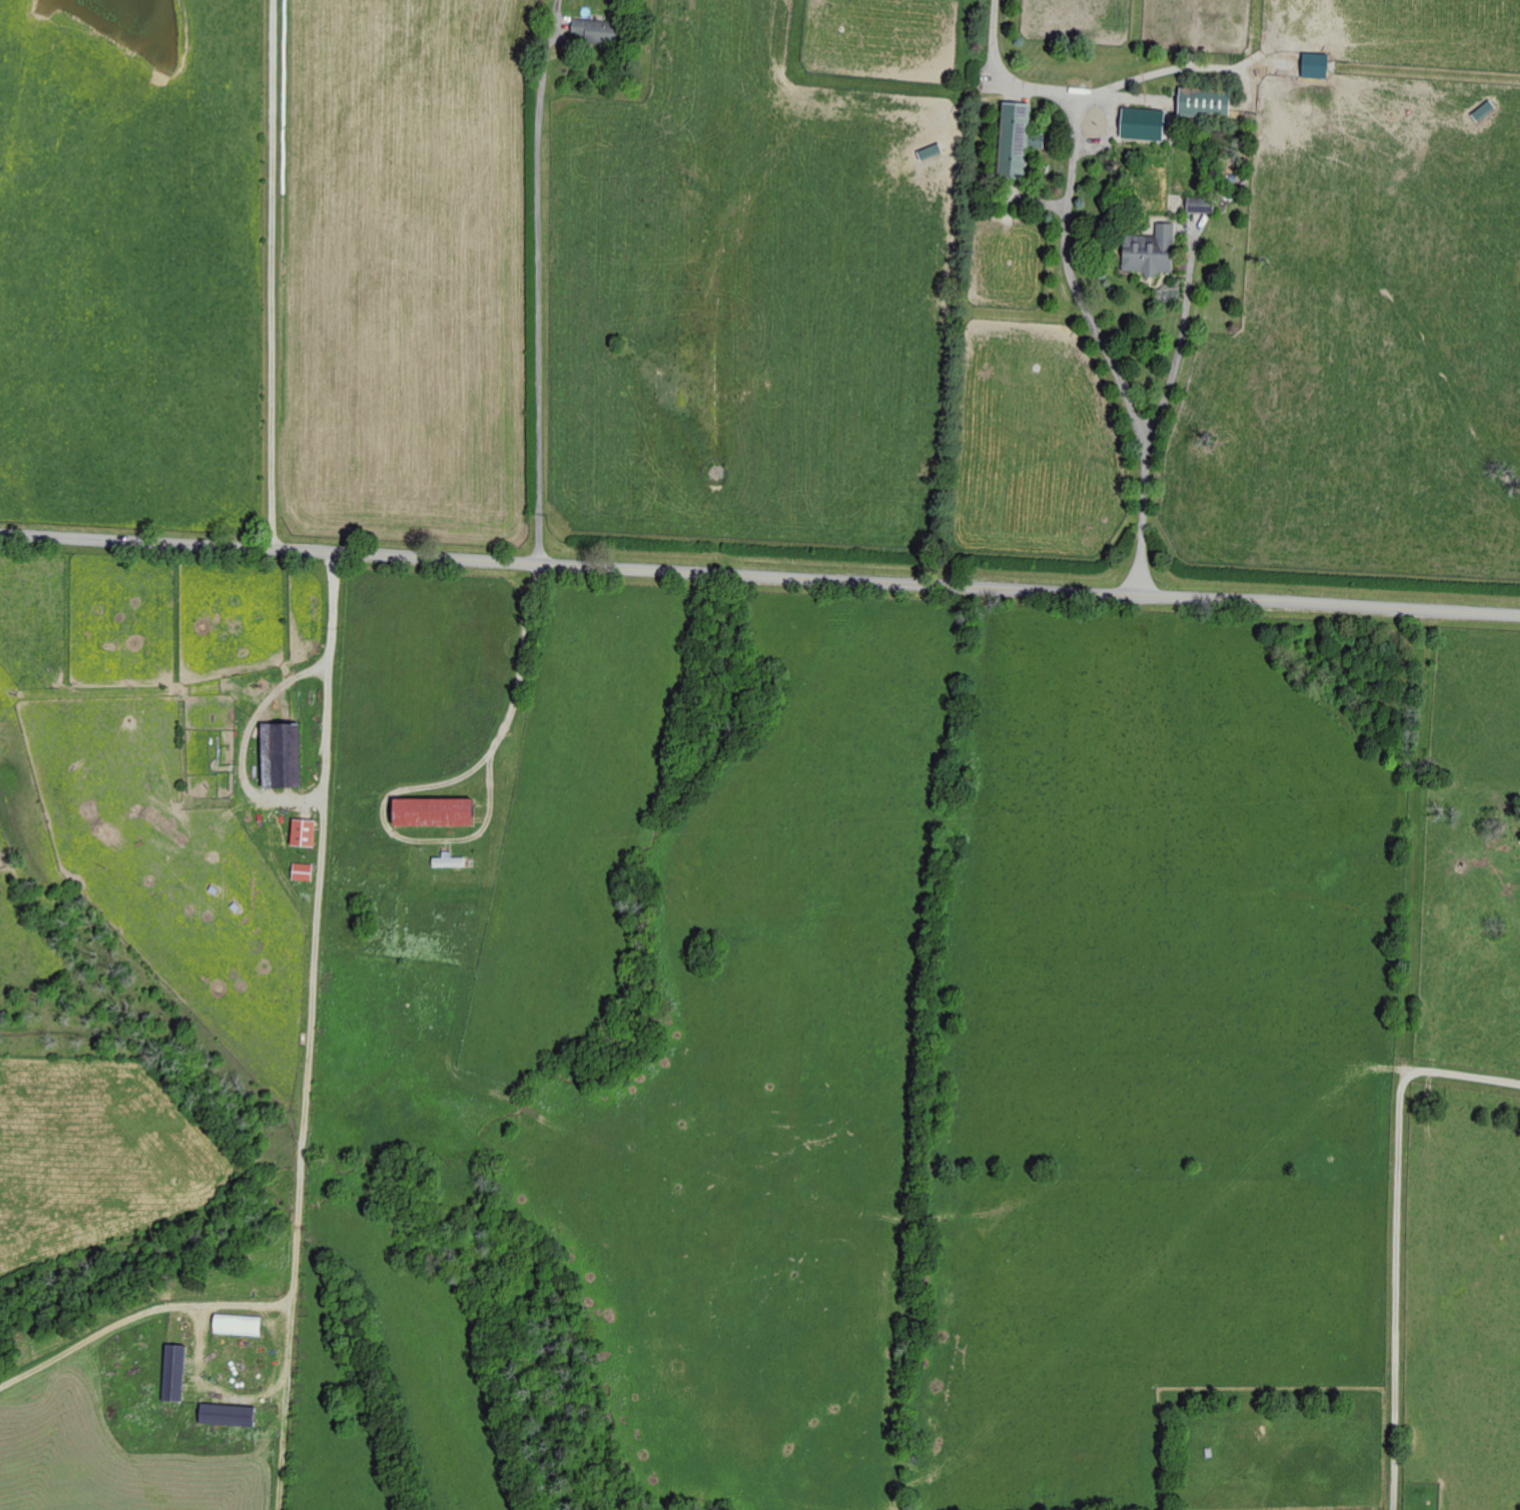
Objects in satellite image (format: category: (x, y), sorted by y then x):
building: (589, 31)
road: (1103, 94)
building: (1201, 106)
building: (1139, 124)
building: (1010, 140)
building: (1198, 205)
building: (1150, 253)
road: (272, 275)
road: (1073, 275)
road: (539, 281)
road: (1181, 335)
road: (759, 576)
road: (520, 656)
building: (277, 754)
building: (427, 811)
building: (301, 832)
building: (300, 872)
road: (303, 1080)
road: (1394, 1238)
building: (172, 1375)
building: (224, 1415)

